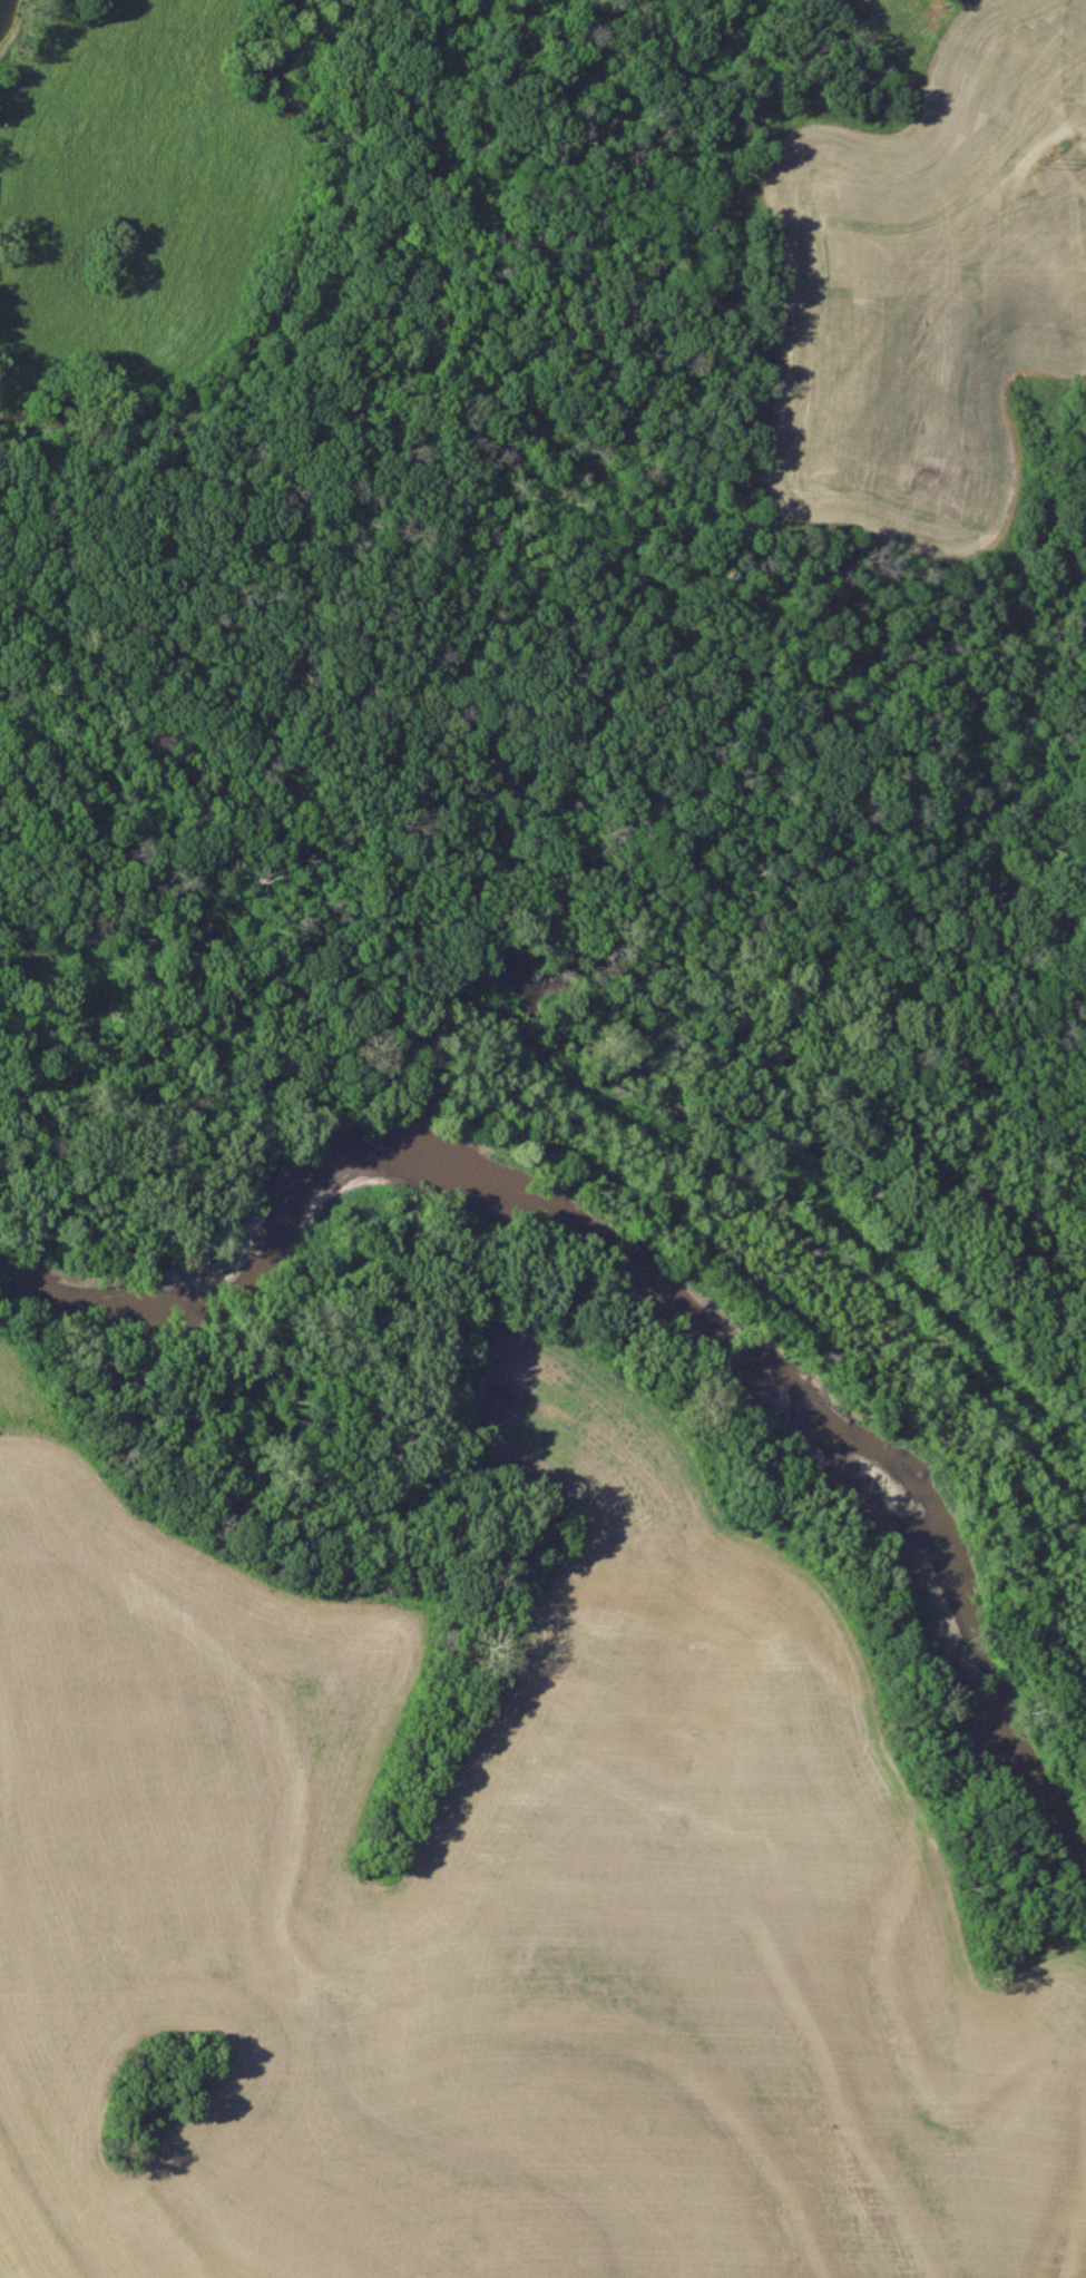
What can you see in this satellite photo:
river: (652, 1287)

